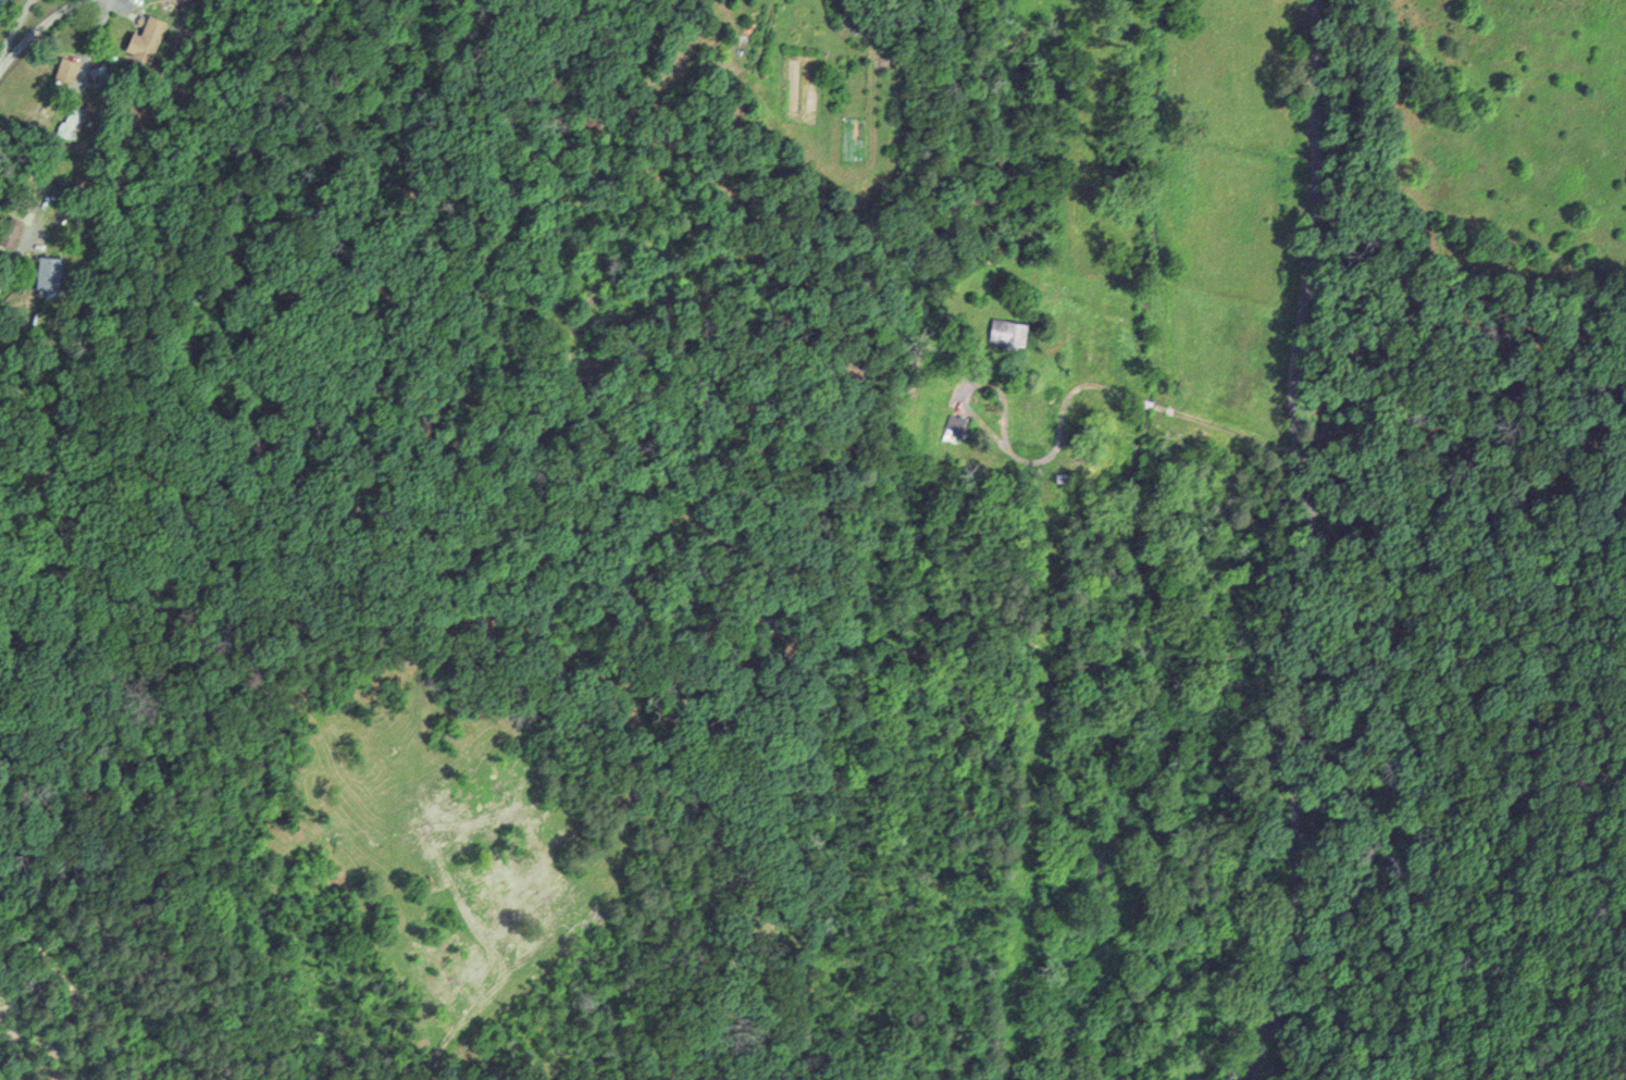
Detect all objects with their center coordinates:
building: (2, 4)
road: (13, 29)
road: (38, 30)
building: (146, 39)
building: (72, 121)
building: (9, 235)
building: (49, 274)
building: (1007, 333)
road: (1149, 406)
road: (1162, 409)
road: (1170, 412)
road: (1239, 435)
road: (1057, 447)
road: (1314, 543)

